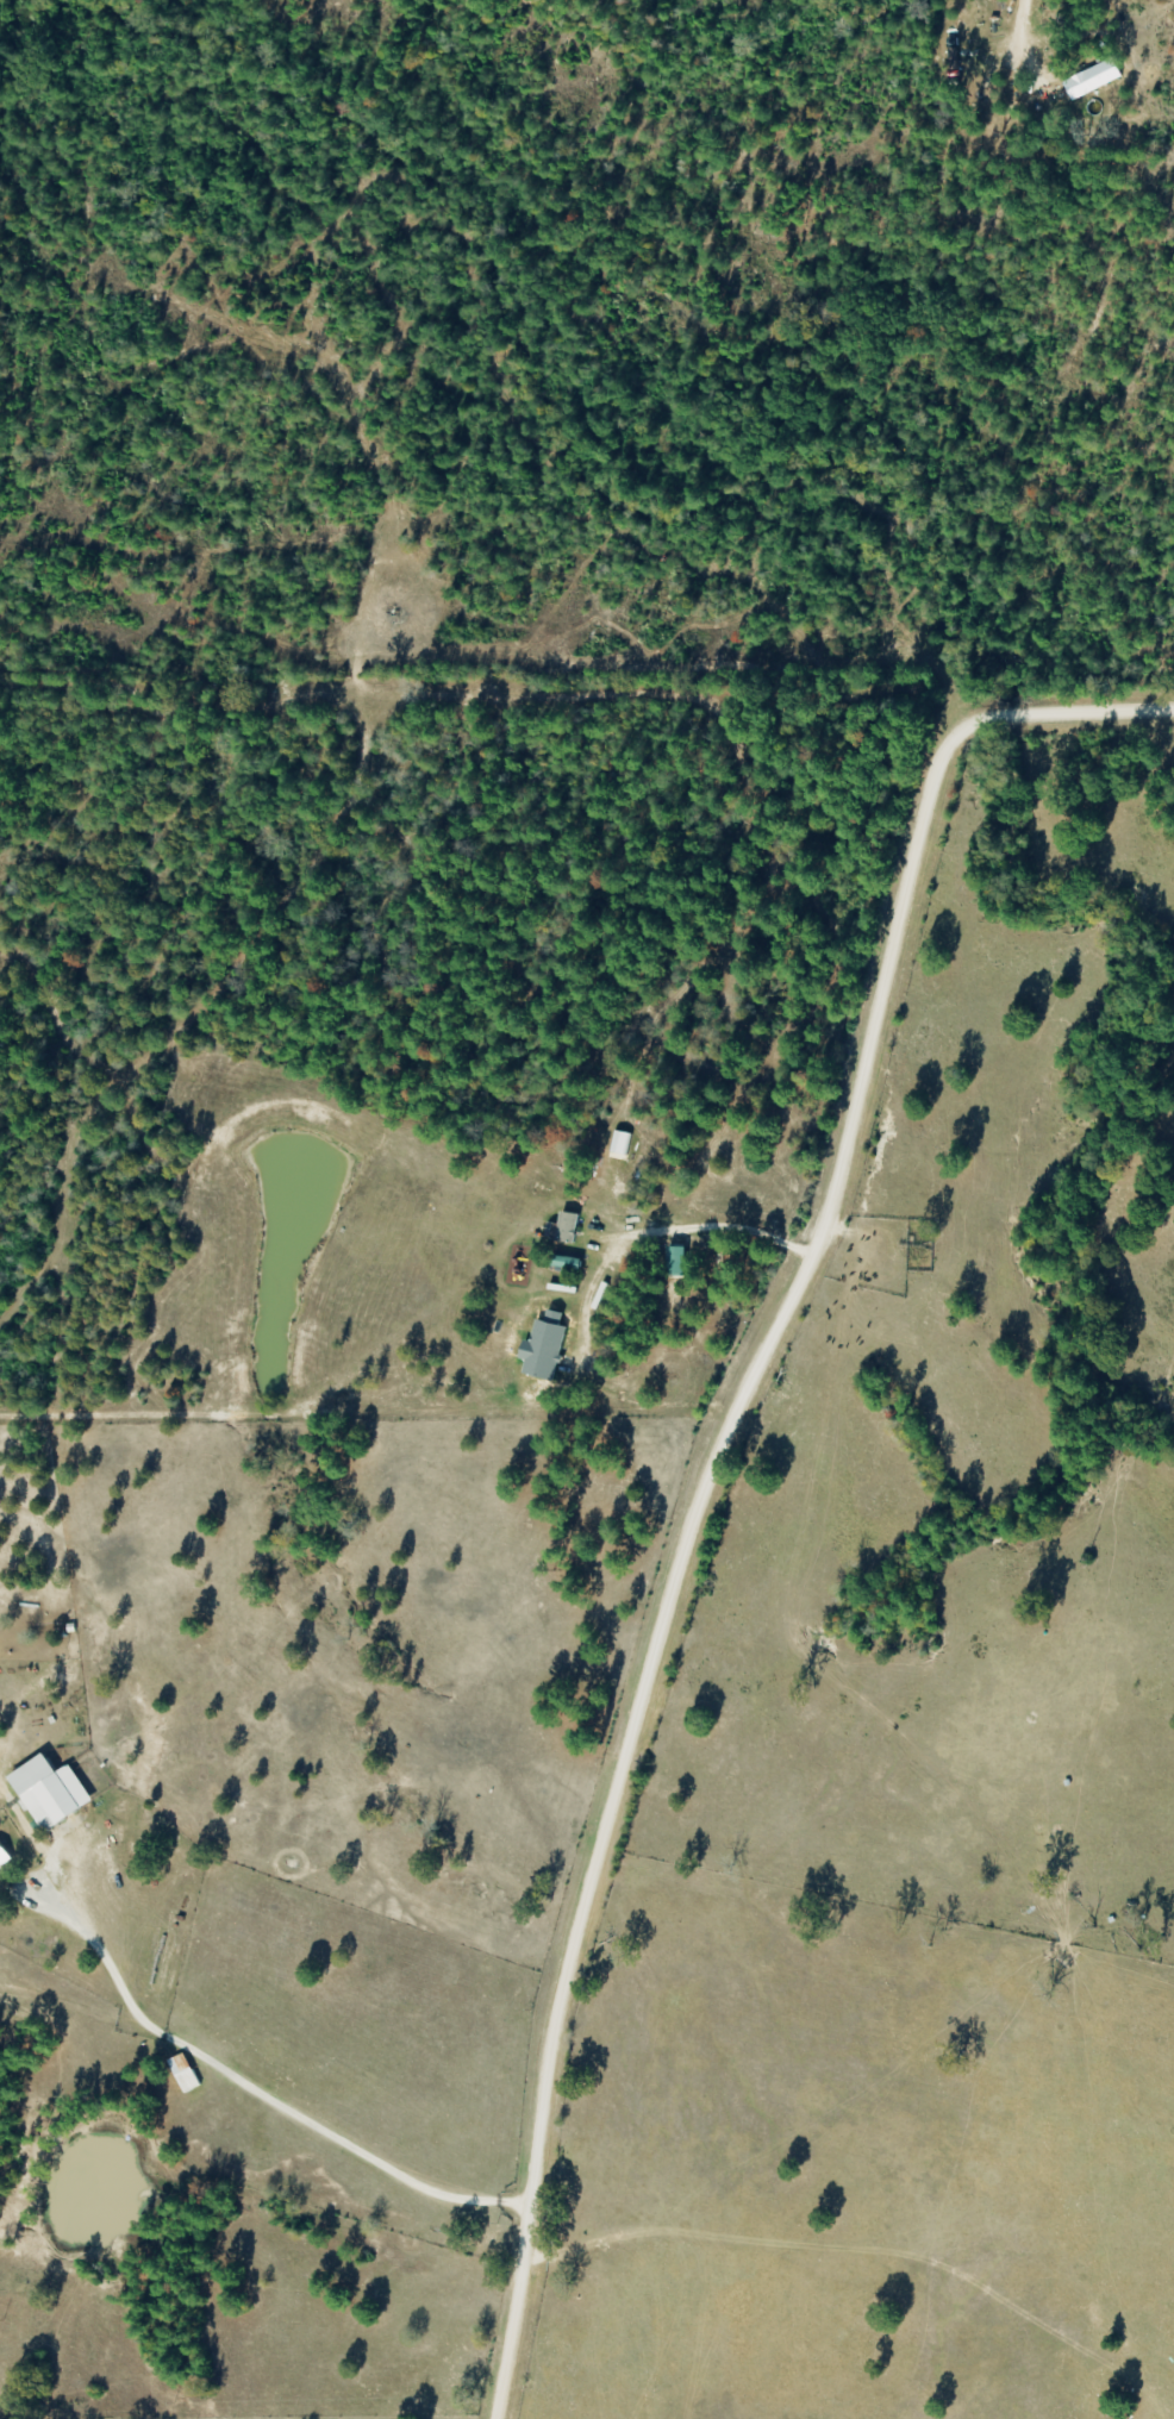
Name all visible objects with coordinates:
building: (1091, 79)
building: (592, 1259)
road: (718, 1456)
building: (4, 1855)
building: (185, 2073)
road: (252, 2086)

